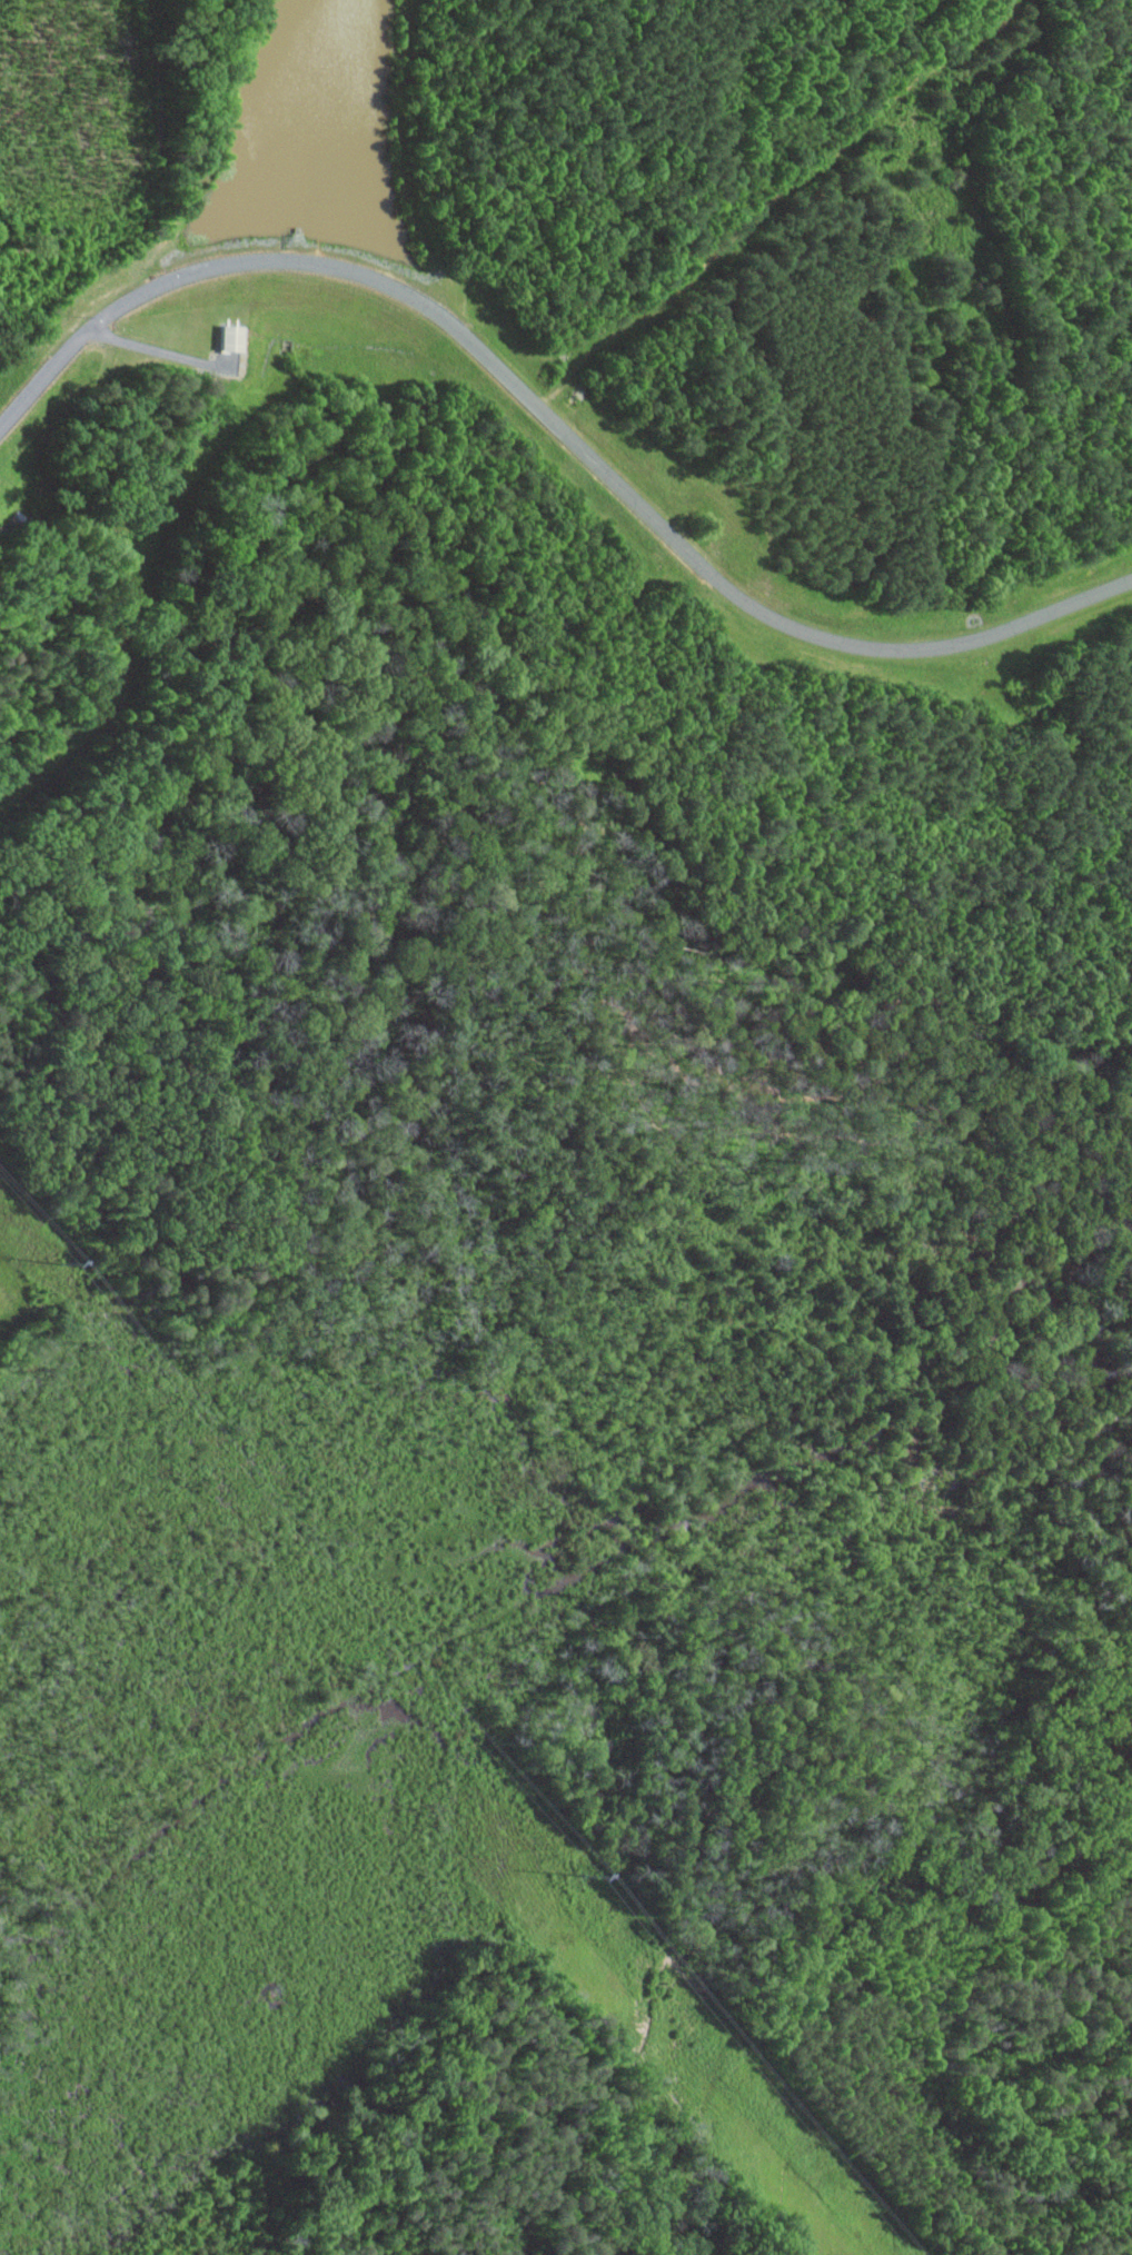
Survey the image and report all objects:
building: (235, 338)
road: (160, 350)
road: (554, 423)
power tower: (64, 1265)
river: (542, 1603)
power tower: (584, 1875)

